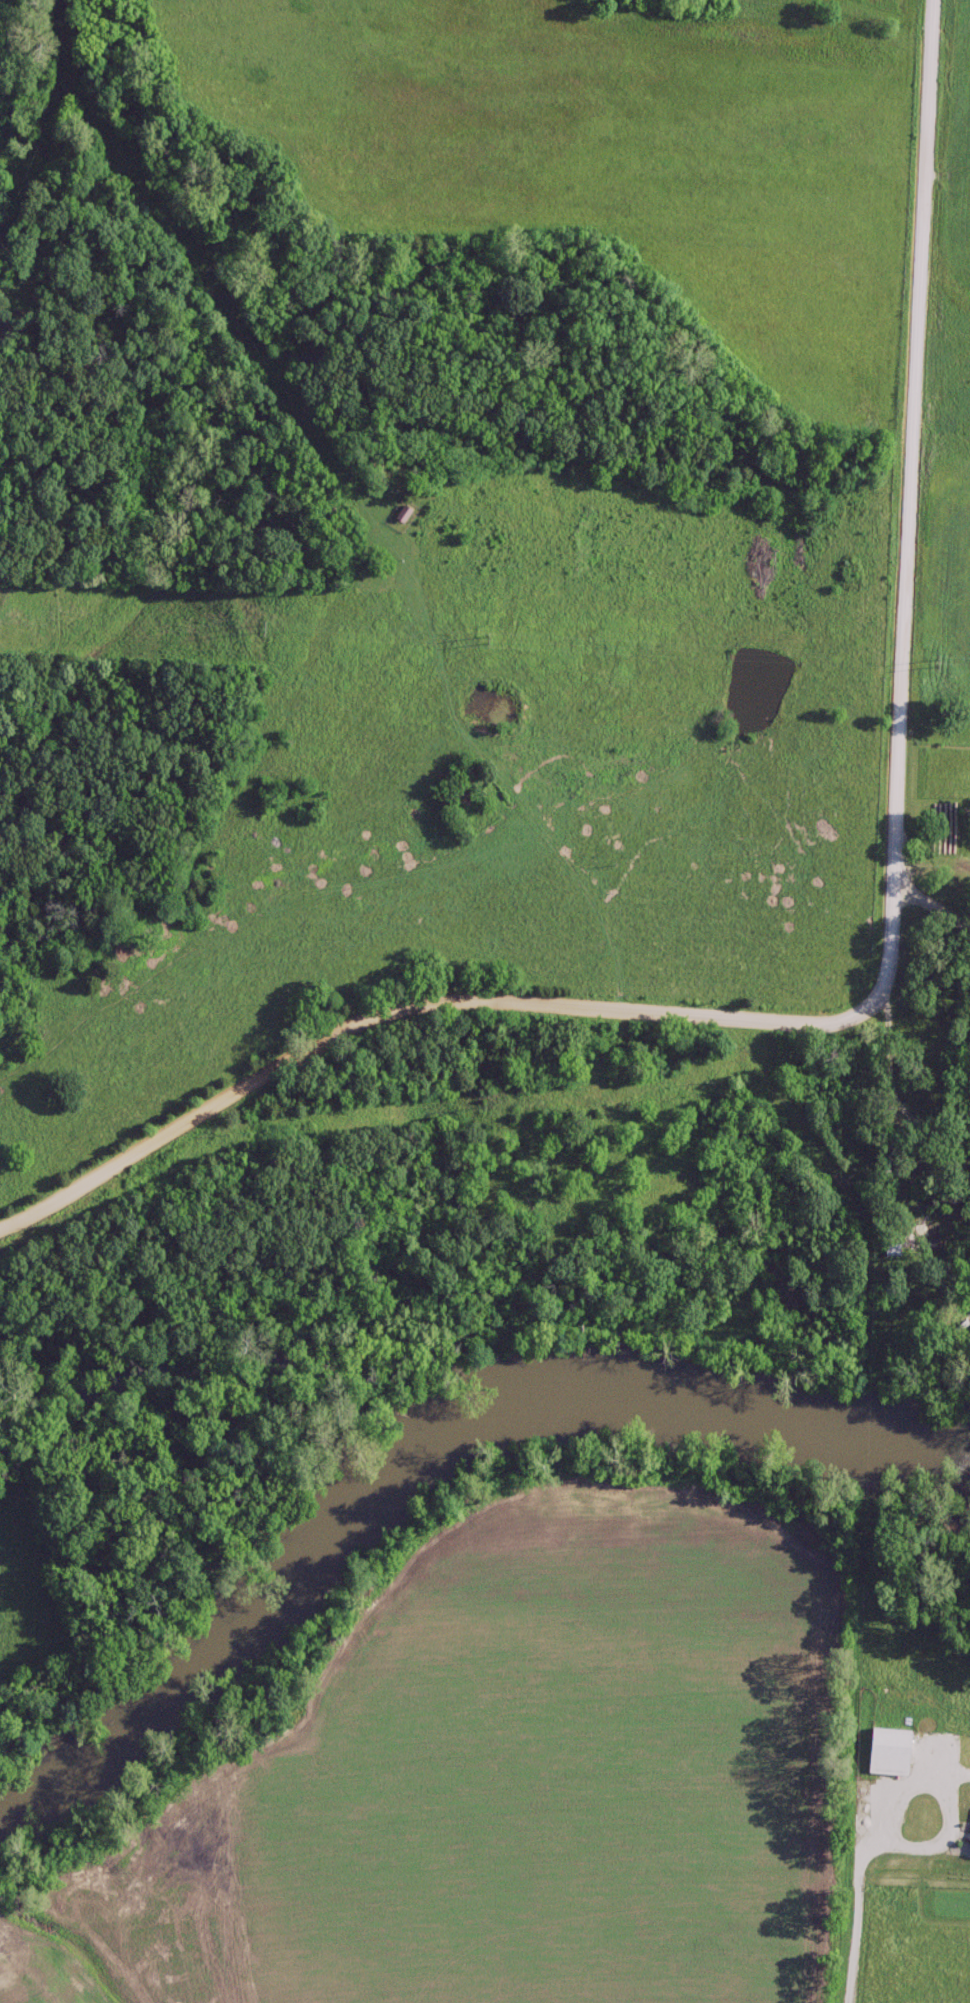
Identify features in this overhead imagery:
power tower: (261, 630)
power tower: (483, 641)
power tower: (931, 666)
road: (932, 902)
road: (890, 973)
building: (881, 1753)
building: (967, 1842)
road: (918, 1846)
road: (860, 1892)

